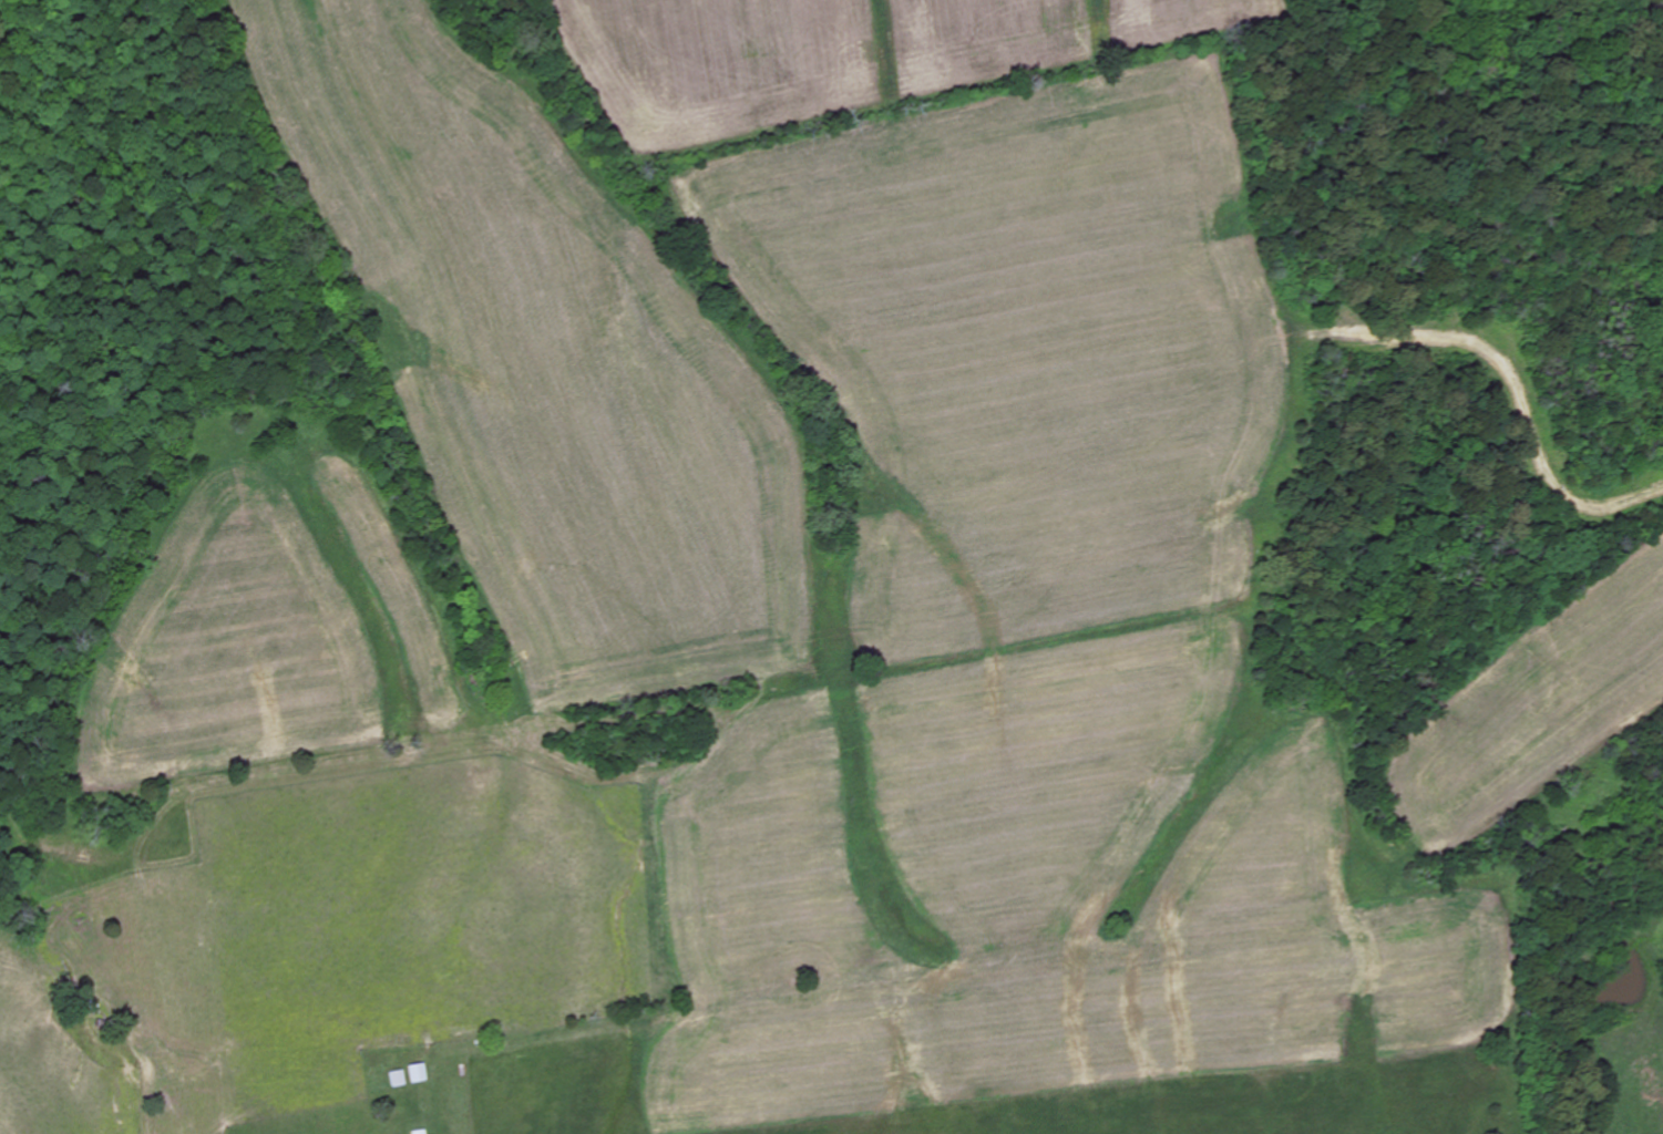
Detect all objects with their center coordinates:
building: (417, 1075)
building: (399, 1081)

